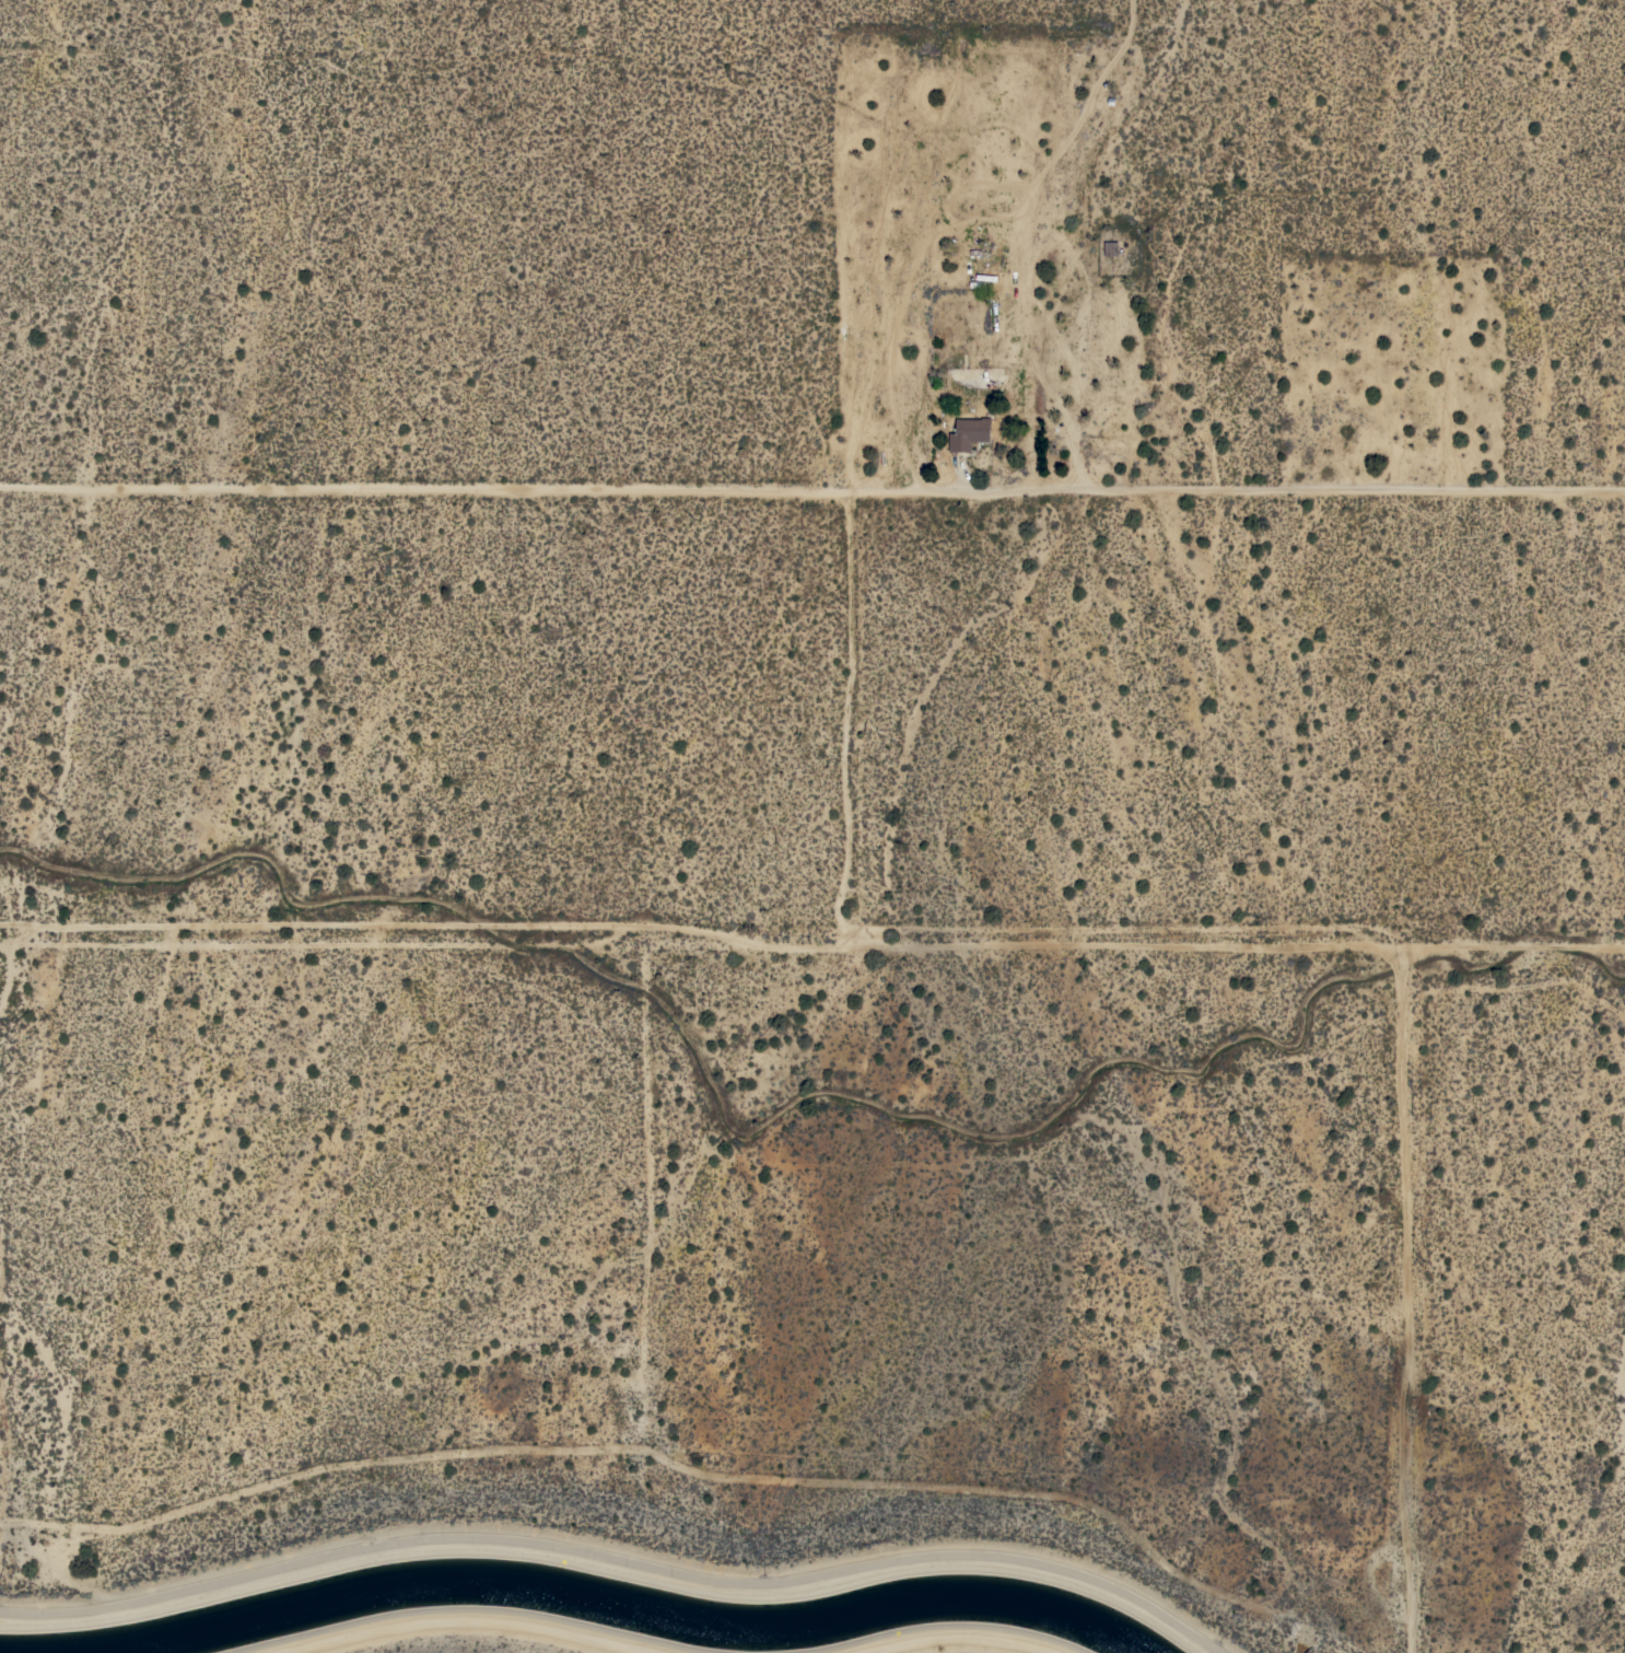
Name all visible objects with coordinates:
building: (1110, 248)
building: (908, 284)
building: (846, 338)
building: (968, 433)
road: (812, 489)
road: (1516, 945)
road: (1410, 1300)

